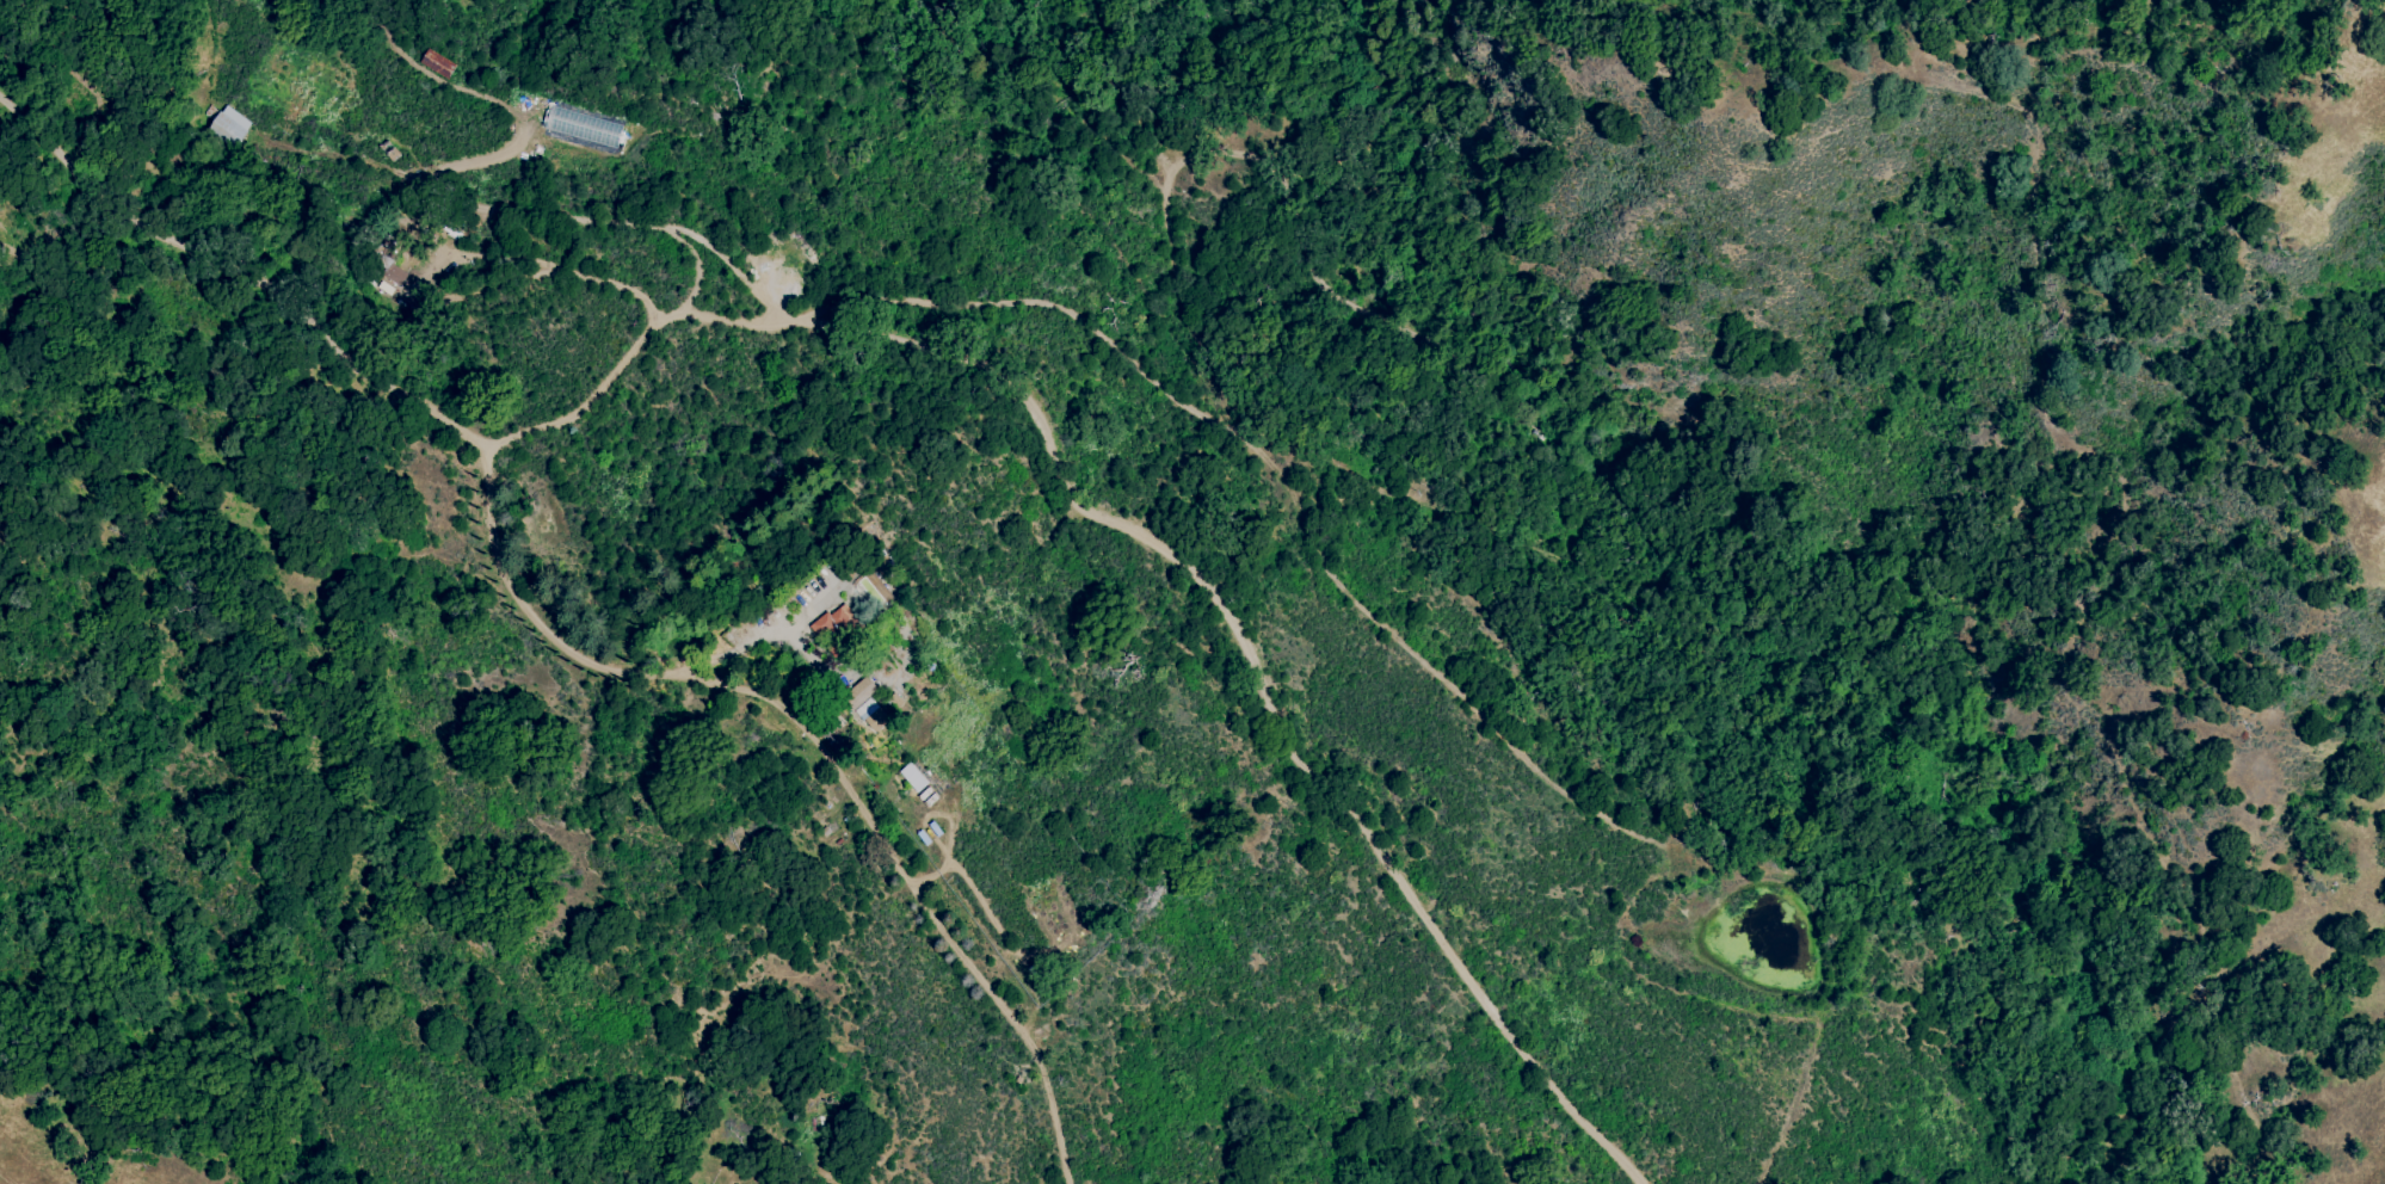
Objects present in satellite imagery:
building: (438, 63)
building: (223, 121)
building: (585, 127)
building: (396, 276)
building: (836, 625)
building: (867, 686)
building: (871, 715)
building: (914, 776)
building: (929, 796)

